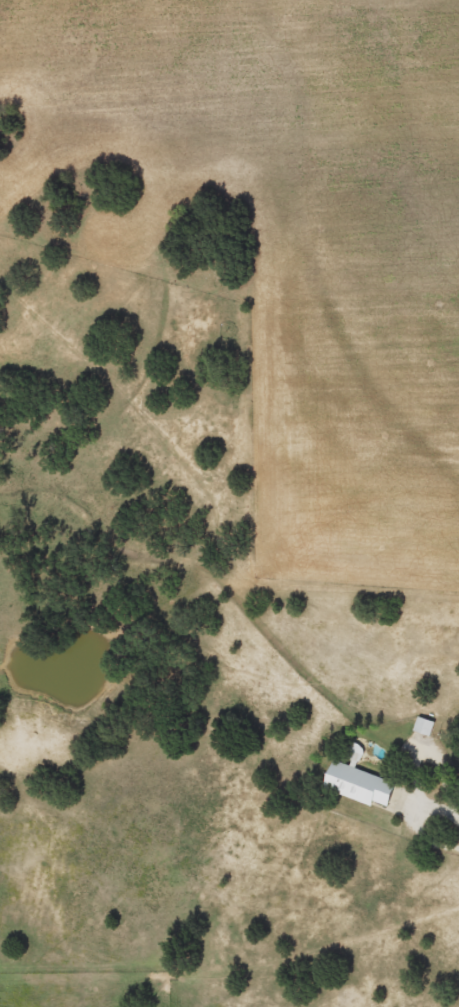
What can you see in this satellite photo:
building: (420, 725)
building: (356, 784)

